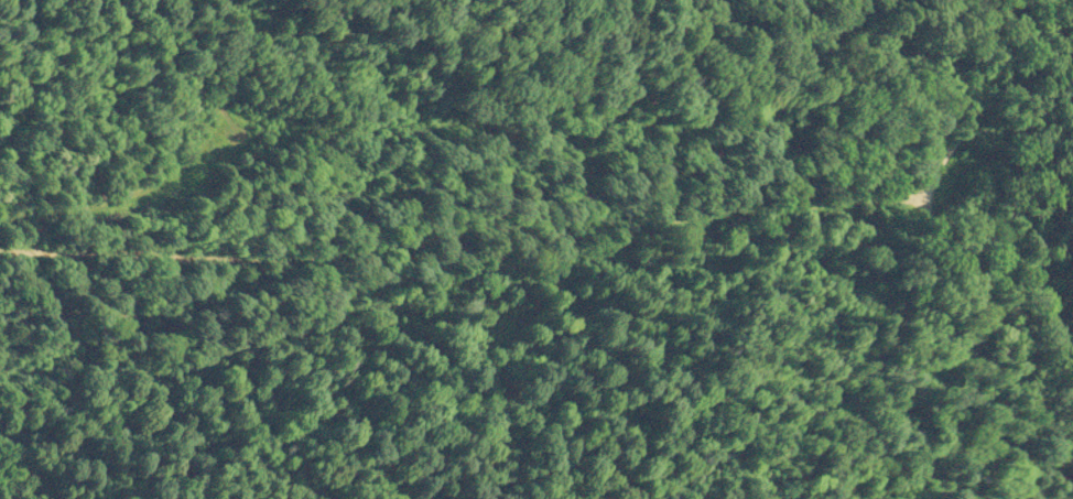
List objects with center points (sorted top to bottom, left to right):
road: (565, 122)
road: (564, 225)

